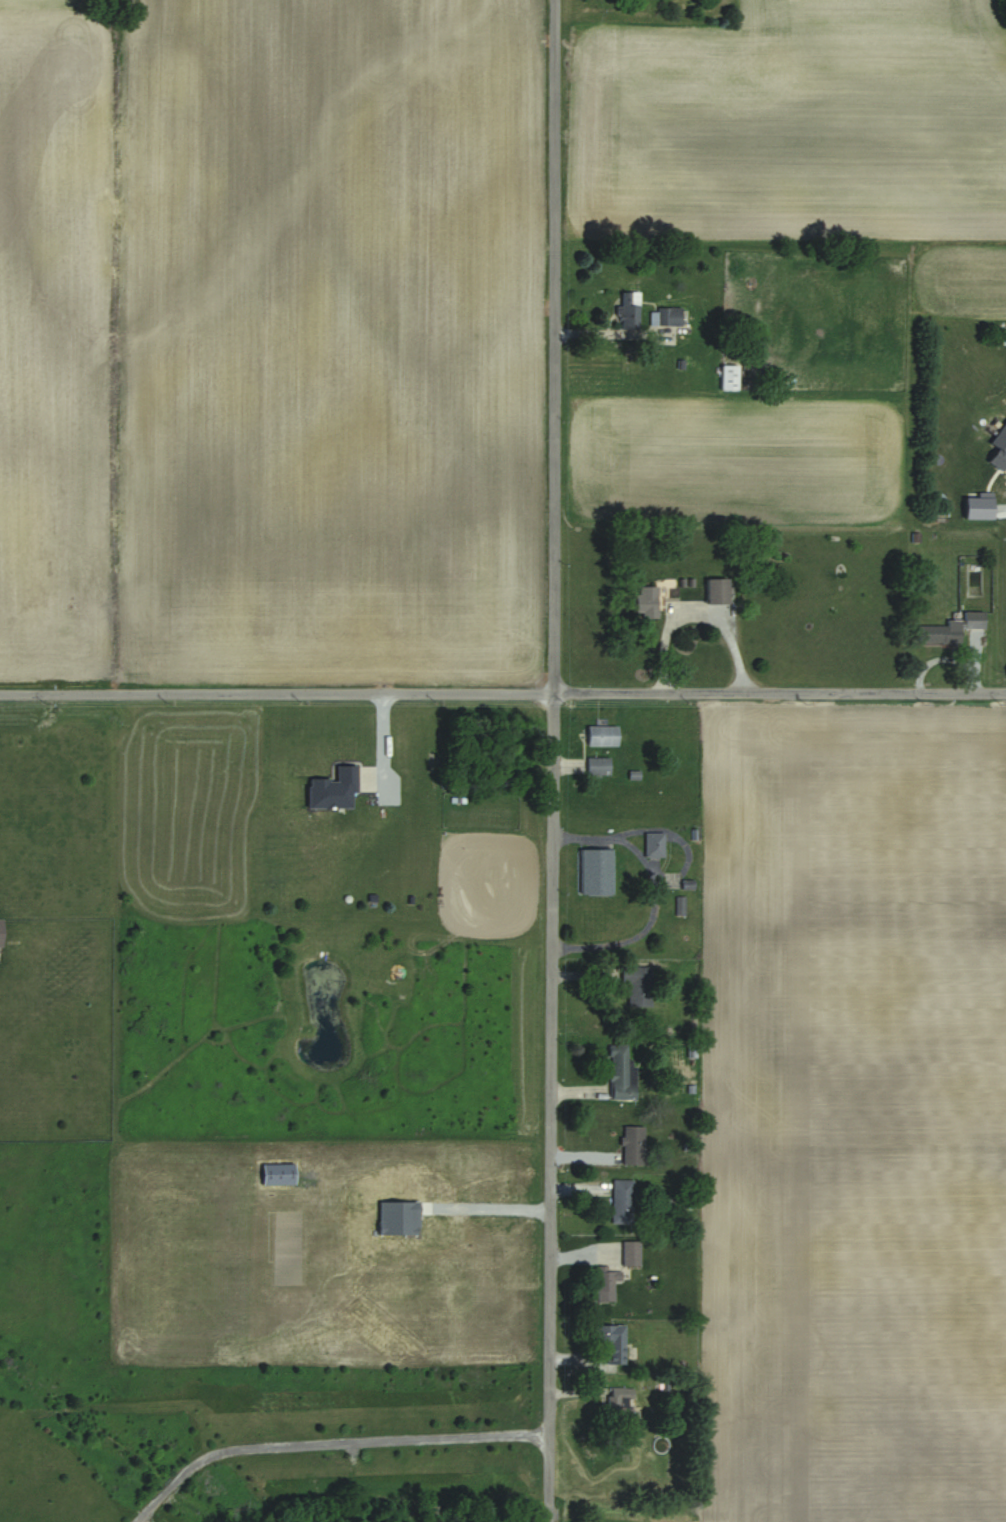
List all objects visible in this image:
building: (629, 310)
building: (668, 315)
building: (729, 376)
building: (999, 449)
building: (718, 591)
building: (647, 602)
building: (953, 628)
road: (502, 694)
building: (602, 735)
road: (383, 745)
road: (554, 761)
building: (598, 765)
building: (334, 790)
road: (664, 829)
building: (655, 845)
building: (596, 872)
road: (654, 894)
building: (0, 931)
building: (637, 982)
building: (621, 1074)
building: (634, 1146)
building: (622, 1201)
building: (631, 1253)
building: (607, 1282)
building: (612, 1341)
building: (620, 1402)
road: (331, 1448)

